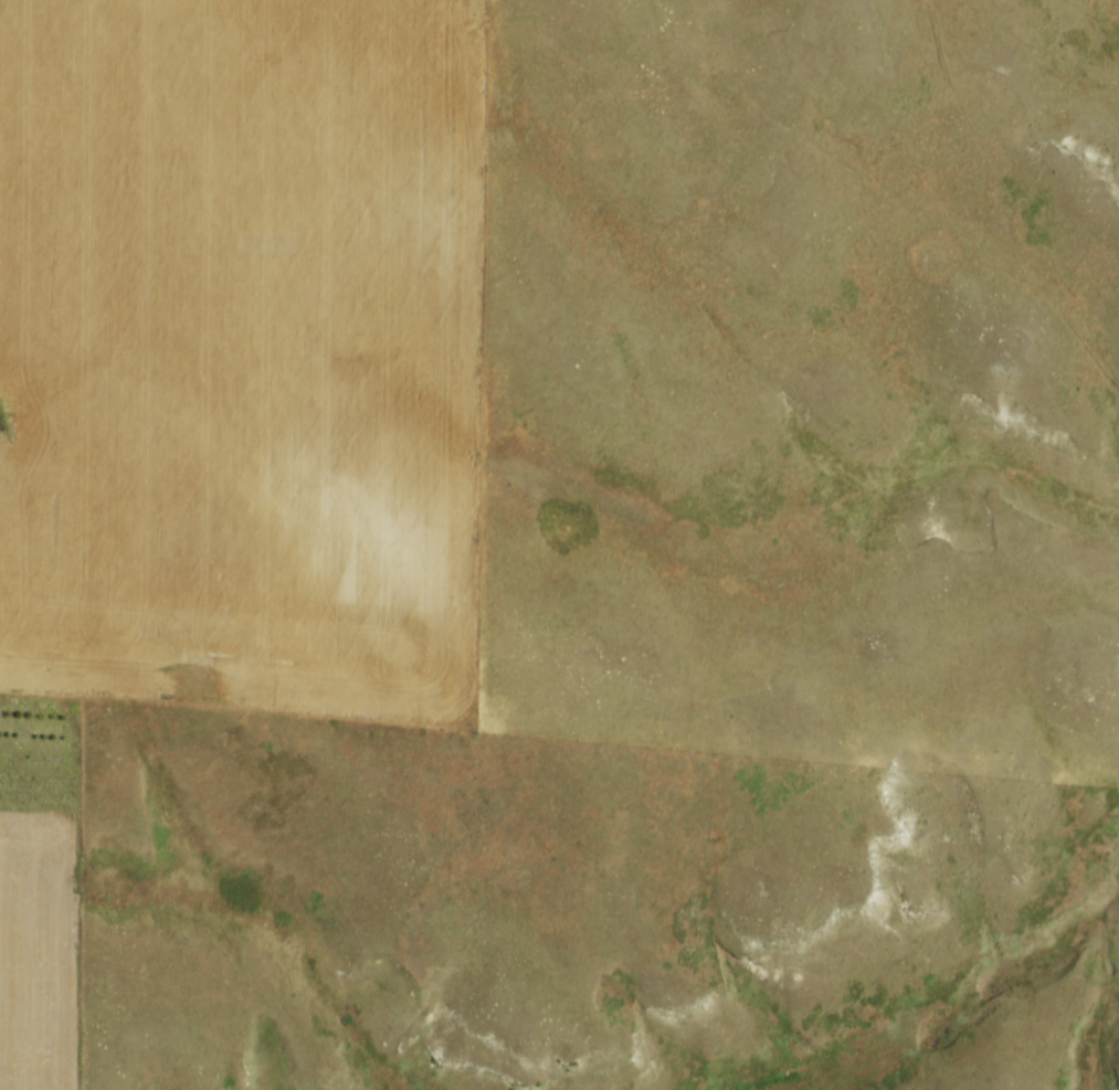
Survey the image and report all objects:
crop: (240, 350)
crop: (36, 941)

